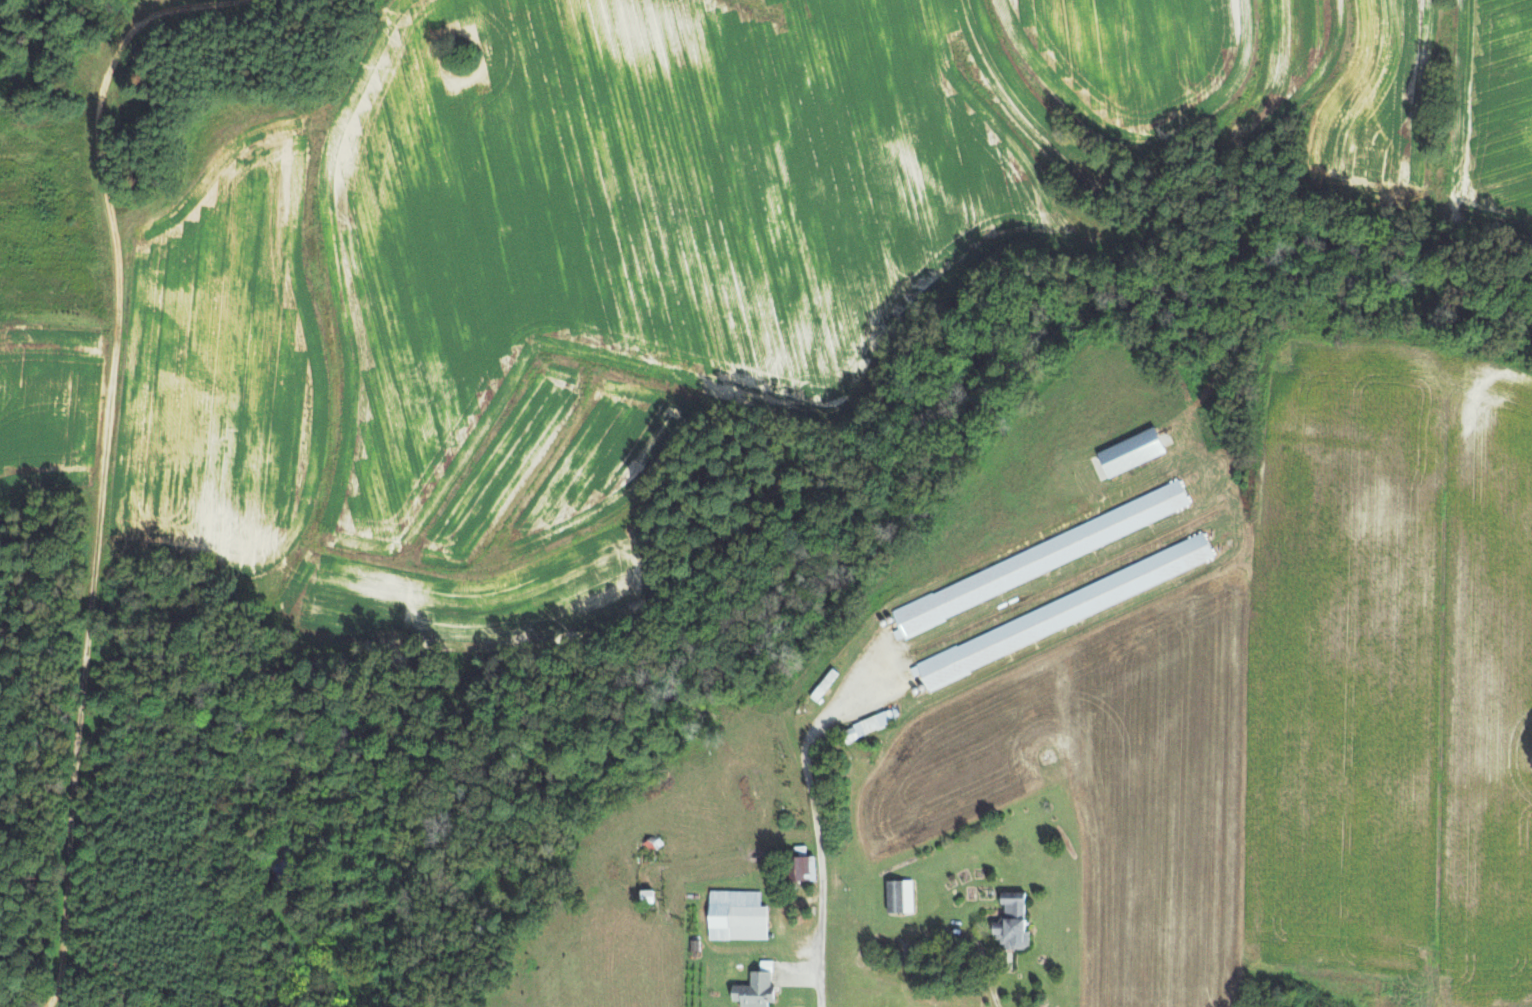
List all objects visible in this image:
building: (1134, 452)
road: (104, 455)
building: (1064, 611)
building: (869, 725)
road: (814, 822)
building: (805, 869)
building: (649, 897)
building: (901, 897)
building: (738, 916)
building: (1014, 925)
building: (756, 991)
road: (992, 996)

